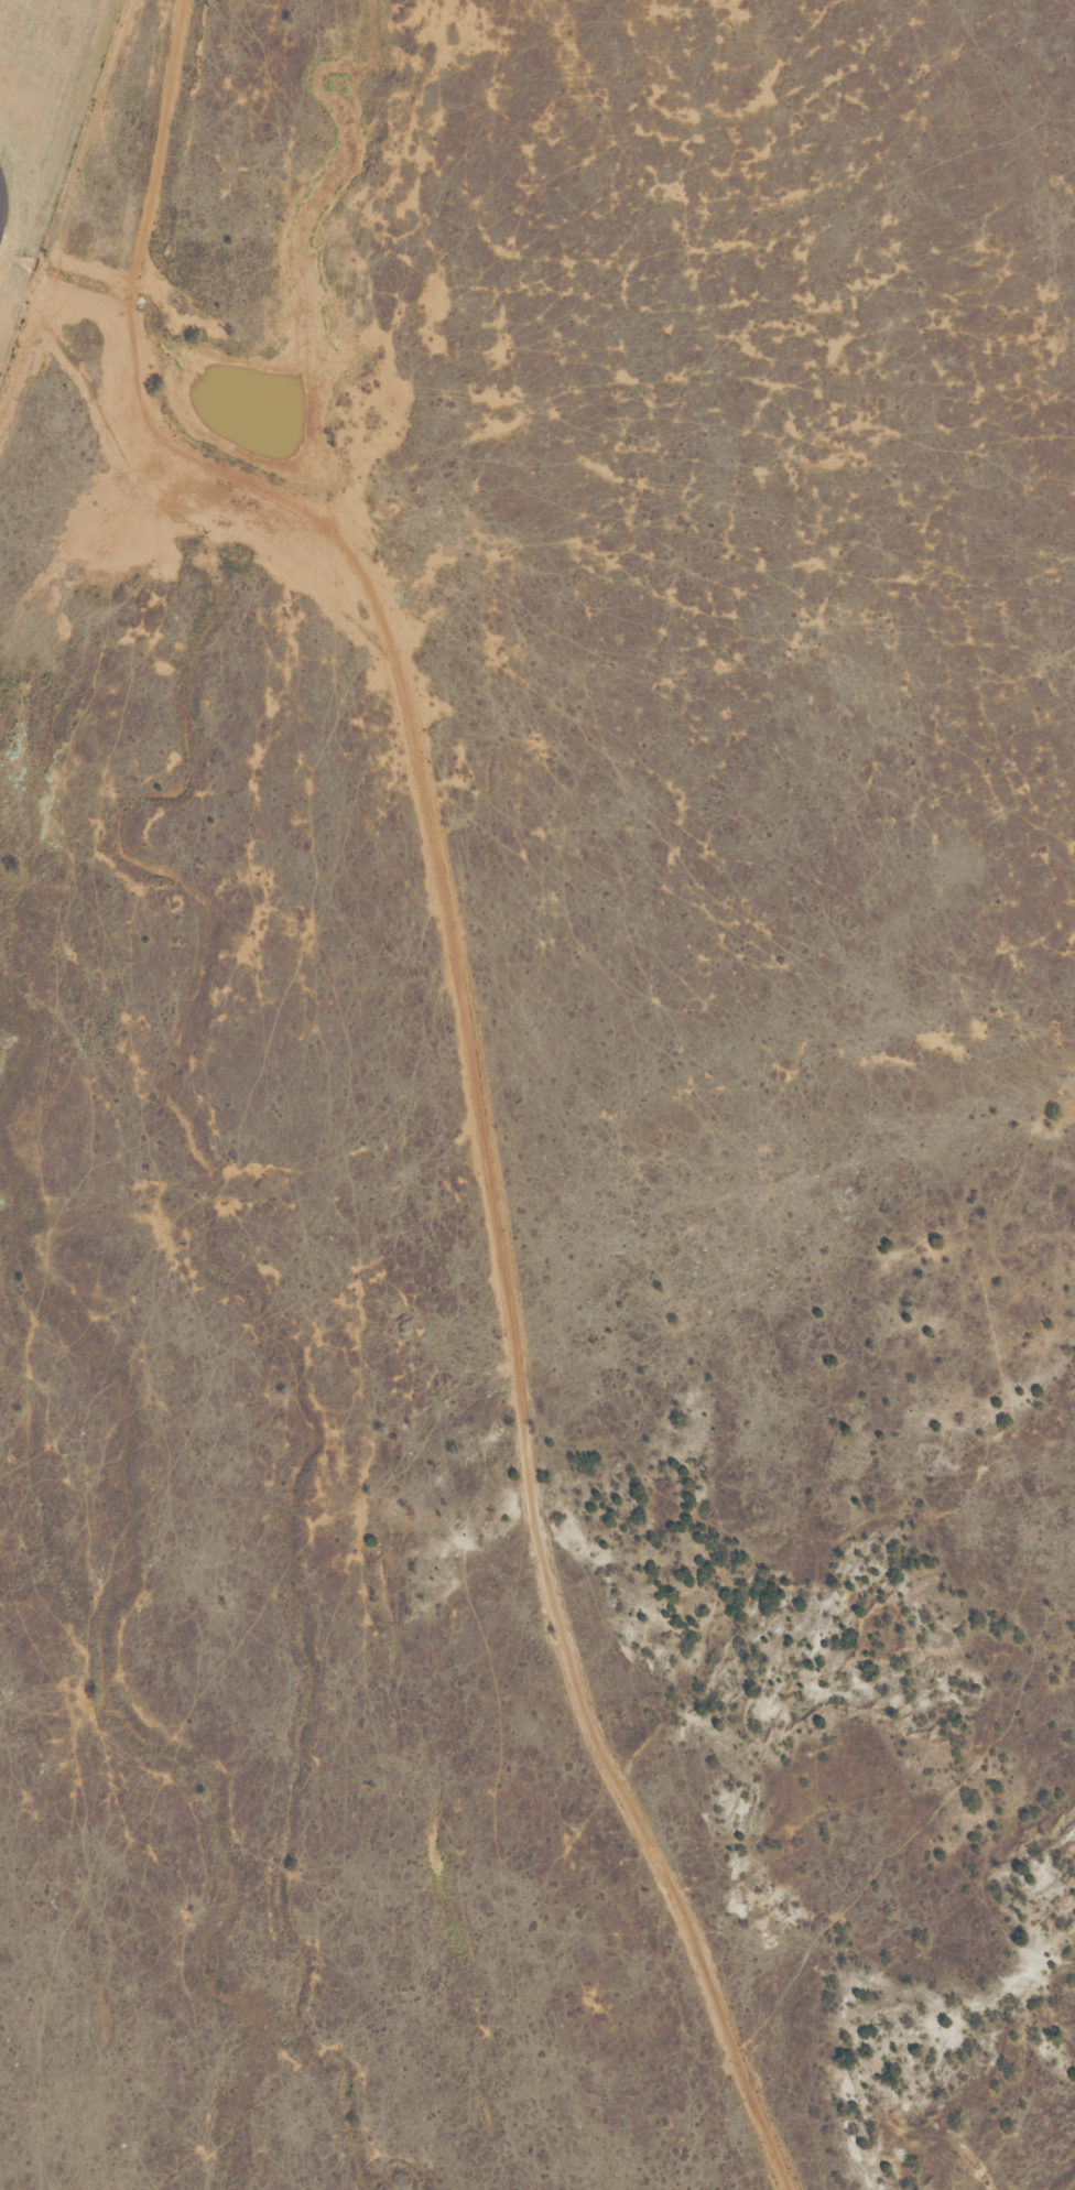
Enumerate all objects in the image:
airport: (42, 129)
road: (152, 236)
road: (486, 1203)

